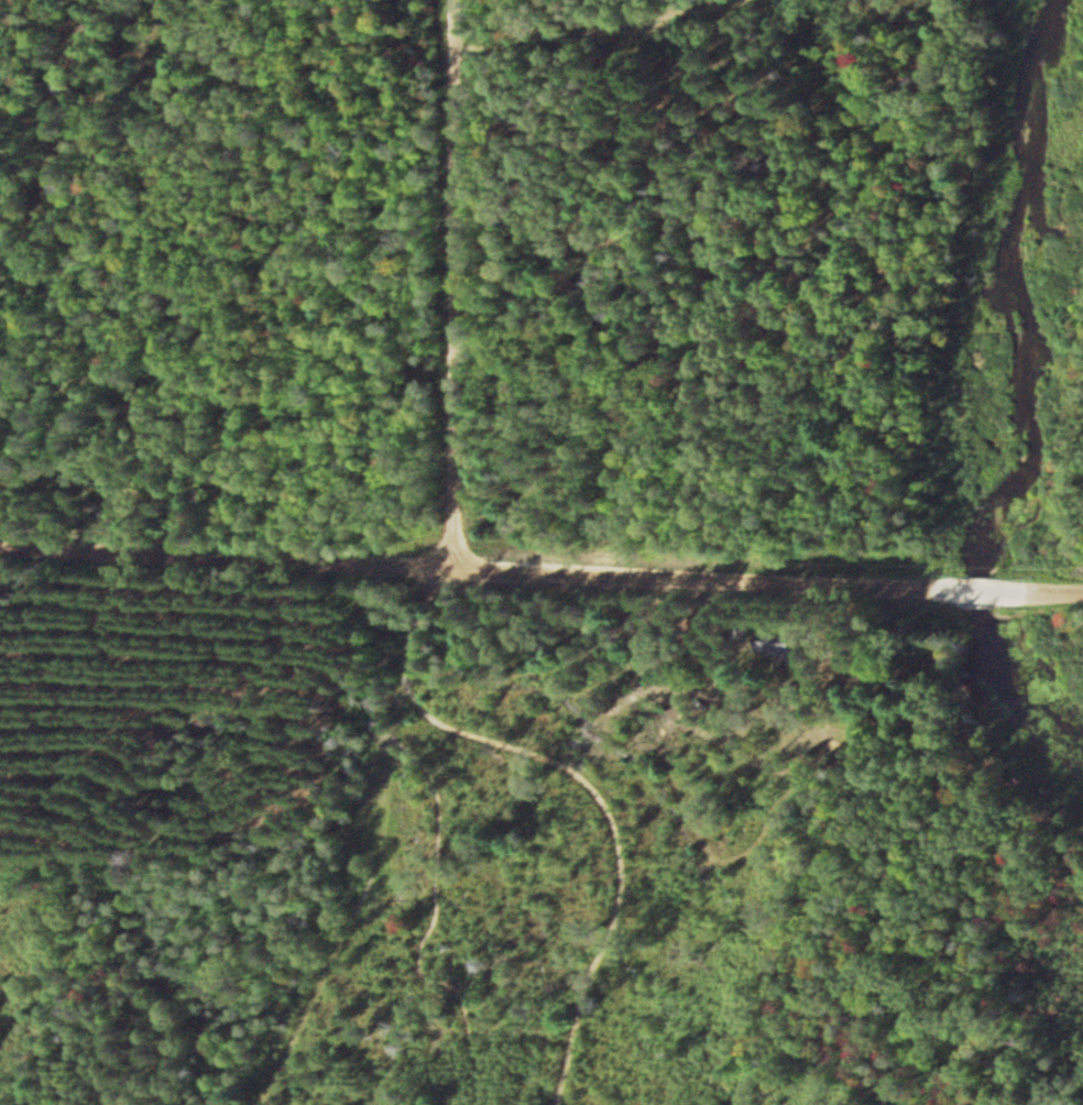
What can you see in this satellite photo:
road: (644, 30)
road: (456, 284)
river: (1026, 292)
road: (228, 556)
road: (694, 579)
road: (983, 591)
road: (1057, 592)
river: (980, 593)
building: (784, 644)
road: (455, 648)
river: (1011, 697)
road: (391, 719)
road: (371, 844)
road: (601, 874)
road: (200, 906)

